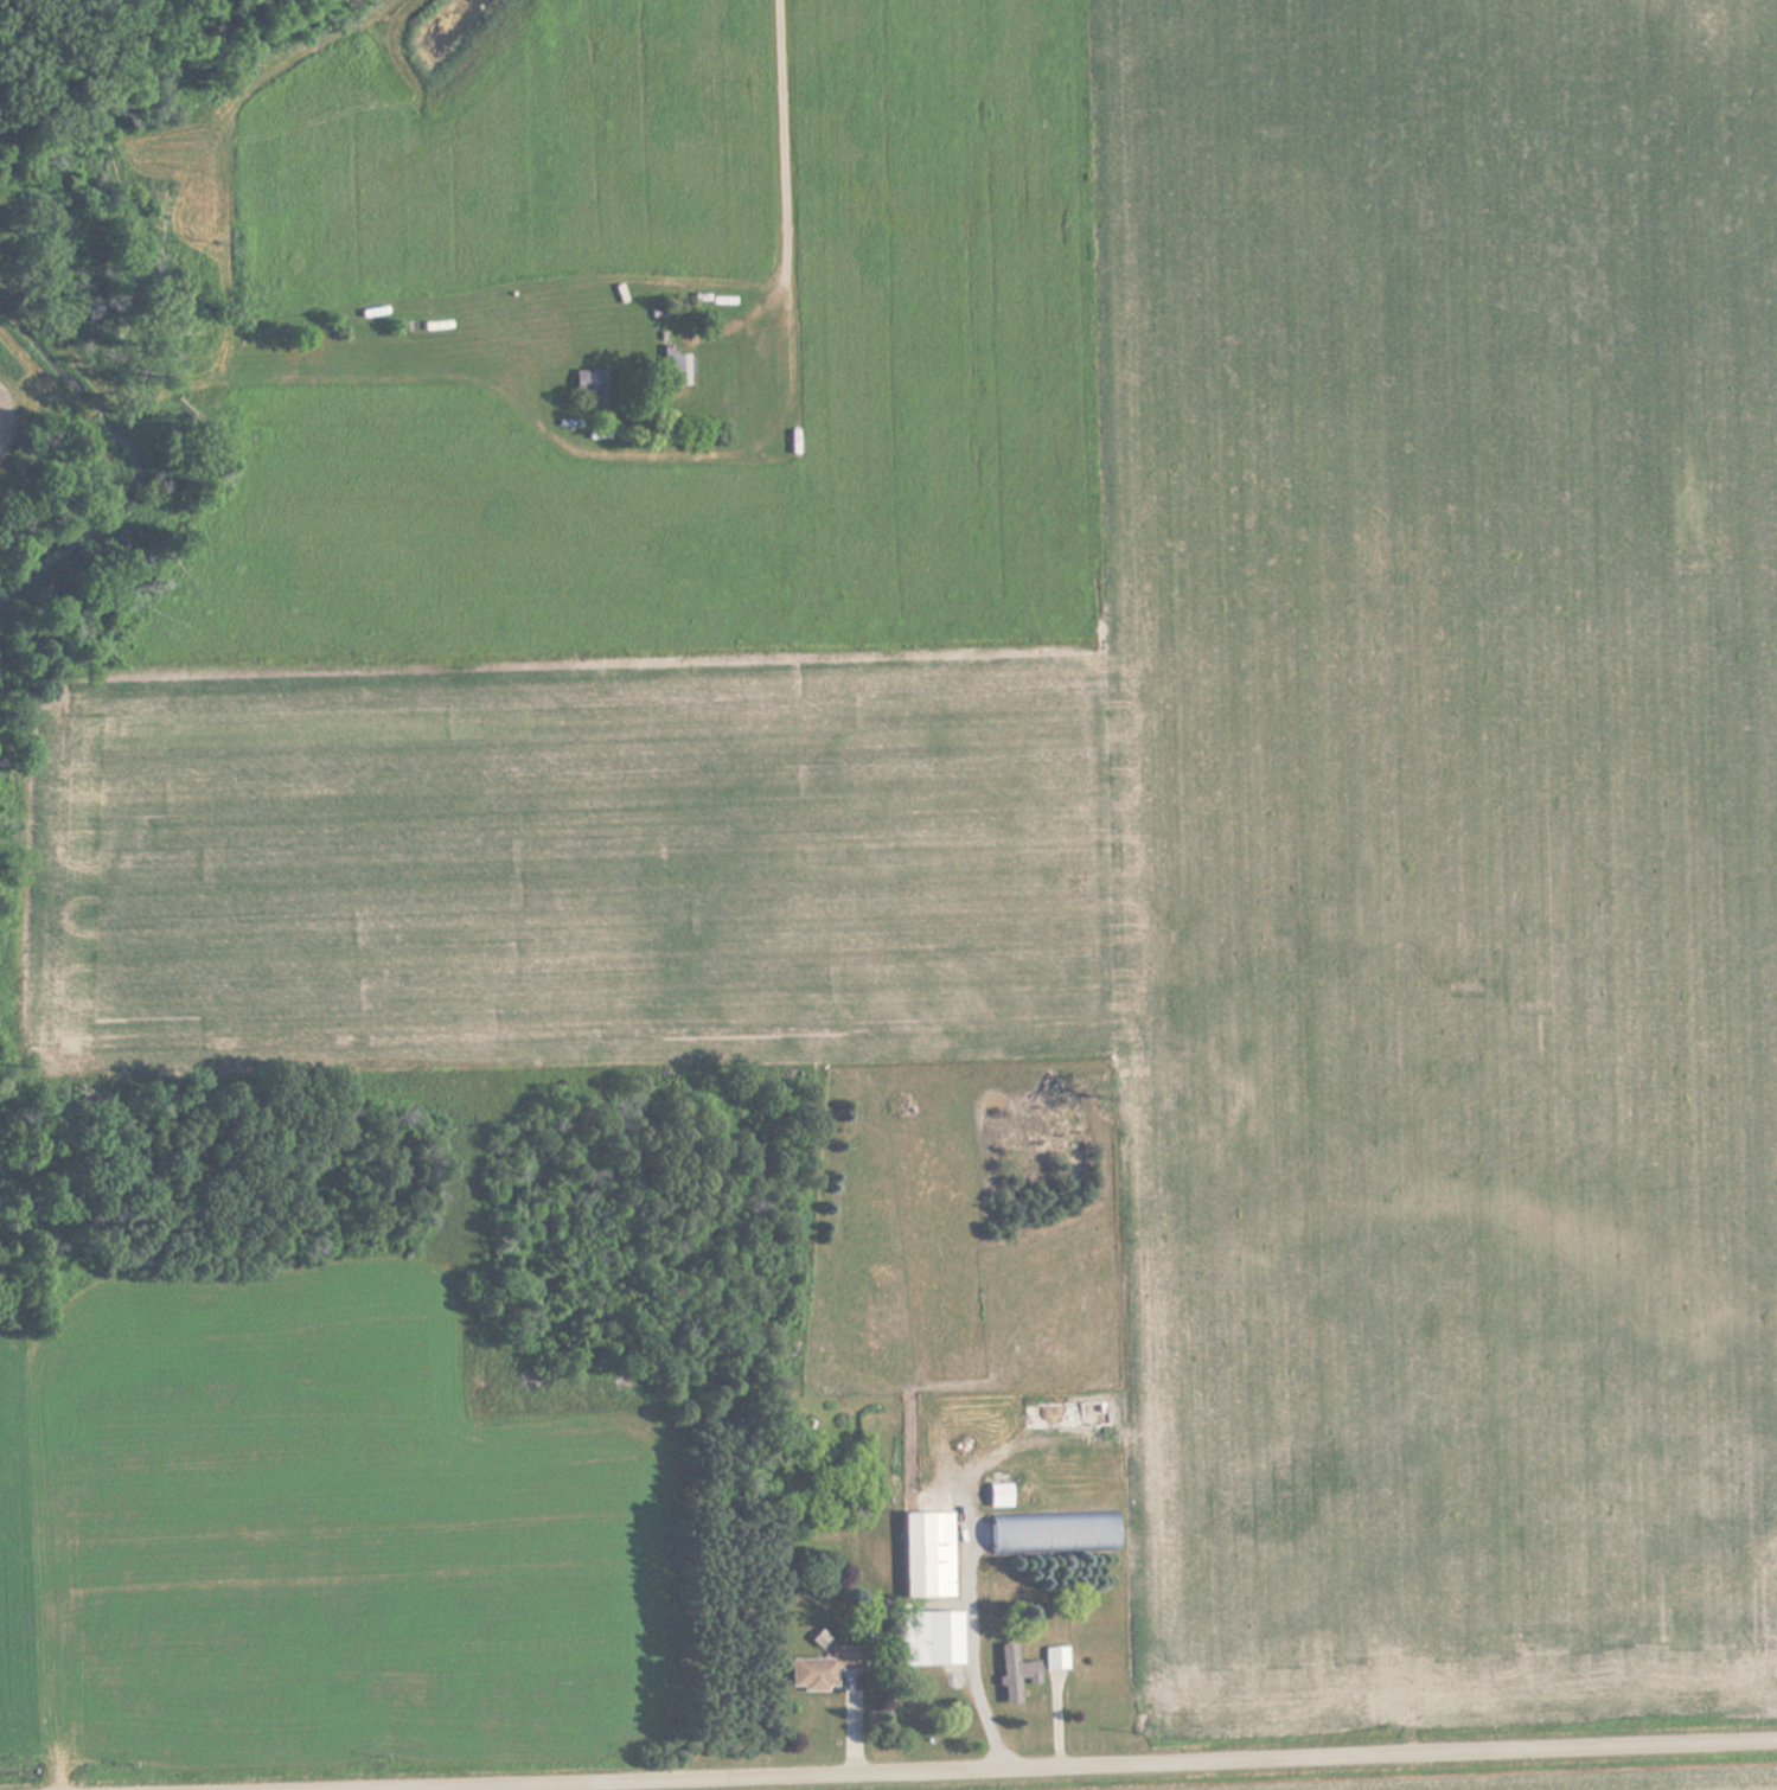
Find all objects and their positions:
road: (782, 168)
building: (676, 369)
building: (589, 382)
building: (1065, 1415)
building: (1054, 1452)
building: (1001, 1496)
building: (1054, 1535)
building: (928, 1555)
building: (931, 1638)
building: (1057, 1658)
building: (824, 1668)
building: (1015, 1674)
road: (1030, 1766)

